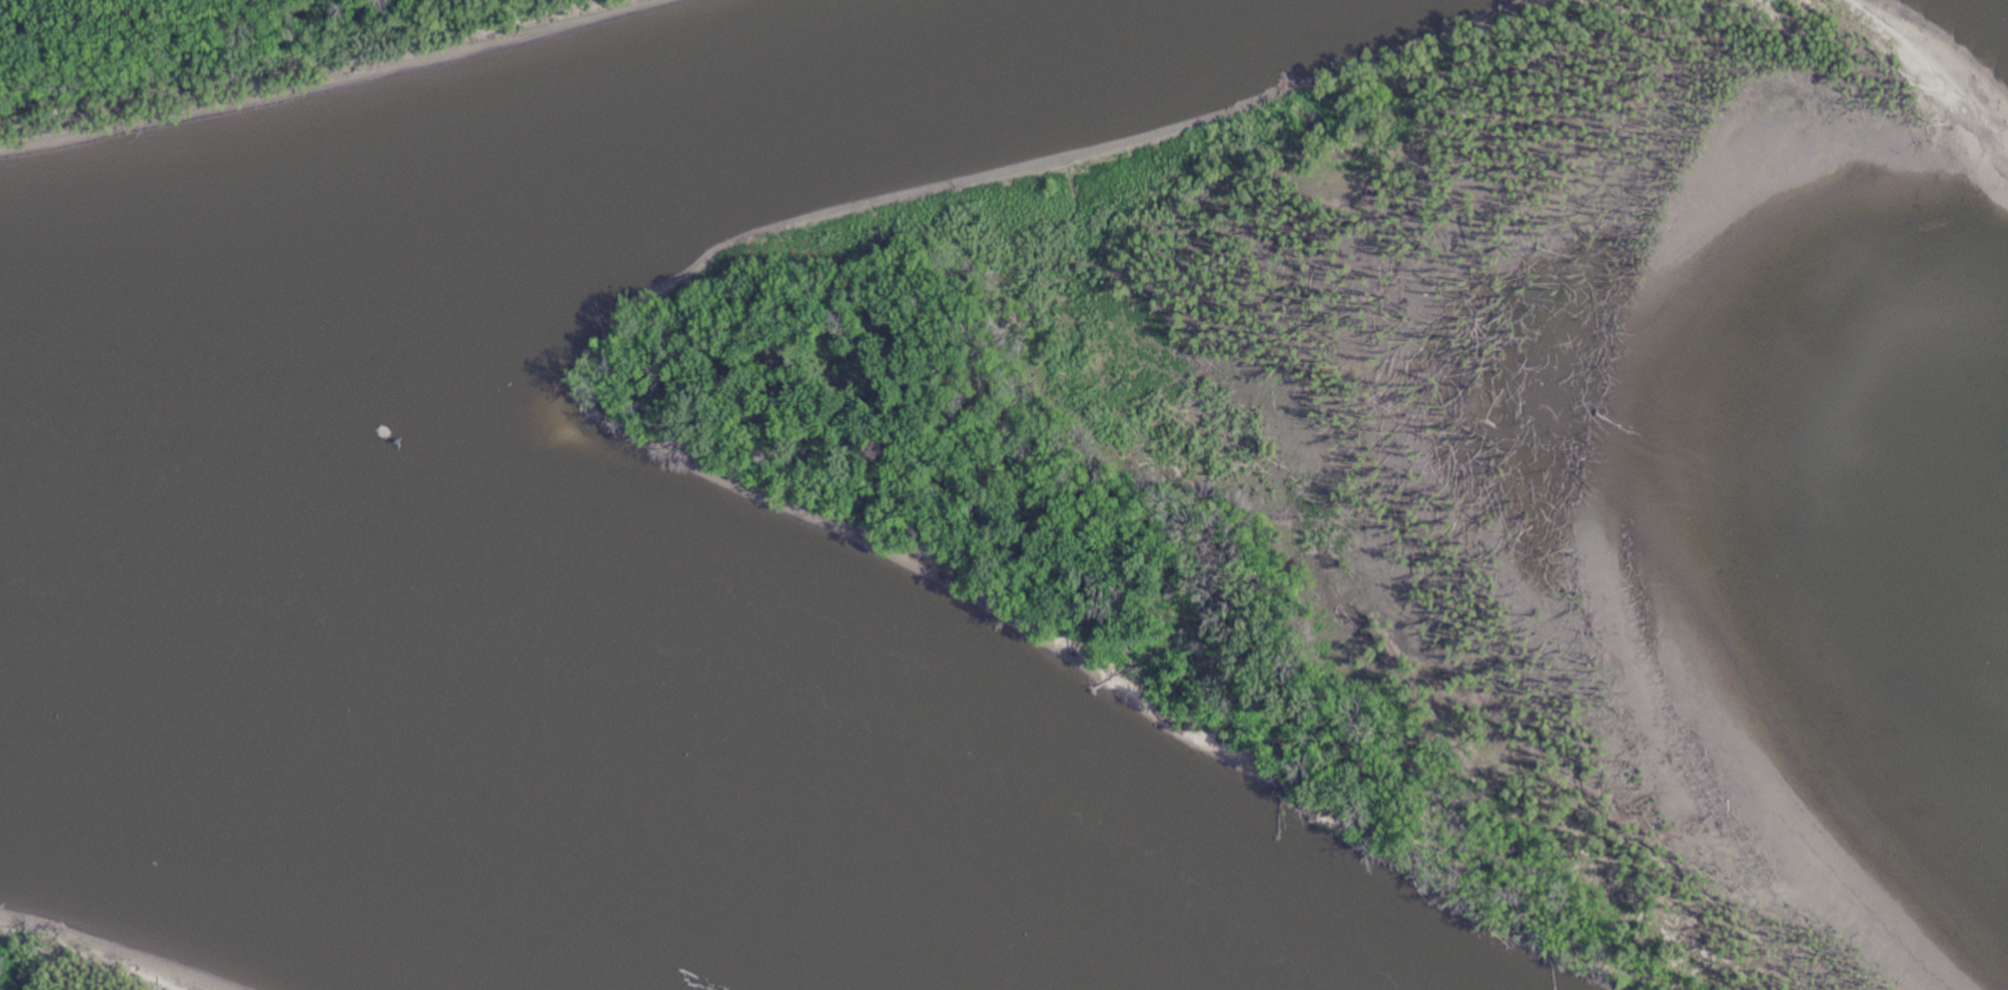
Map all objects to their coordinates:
river: (378, 189)

